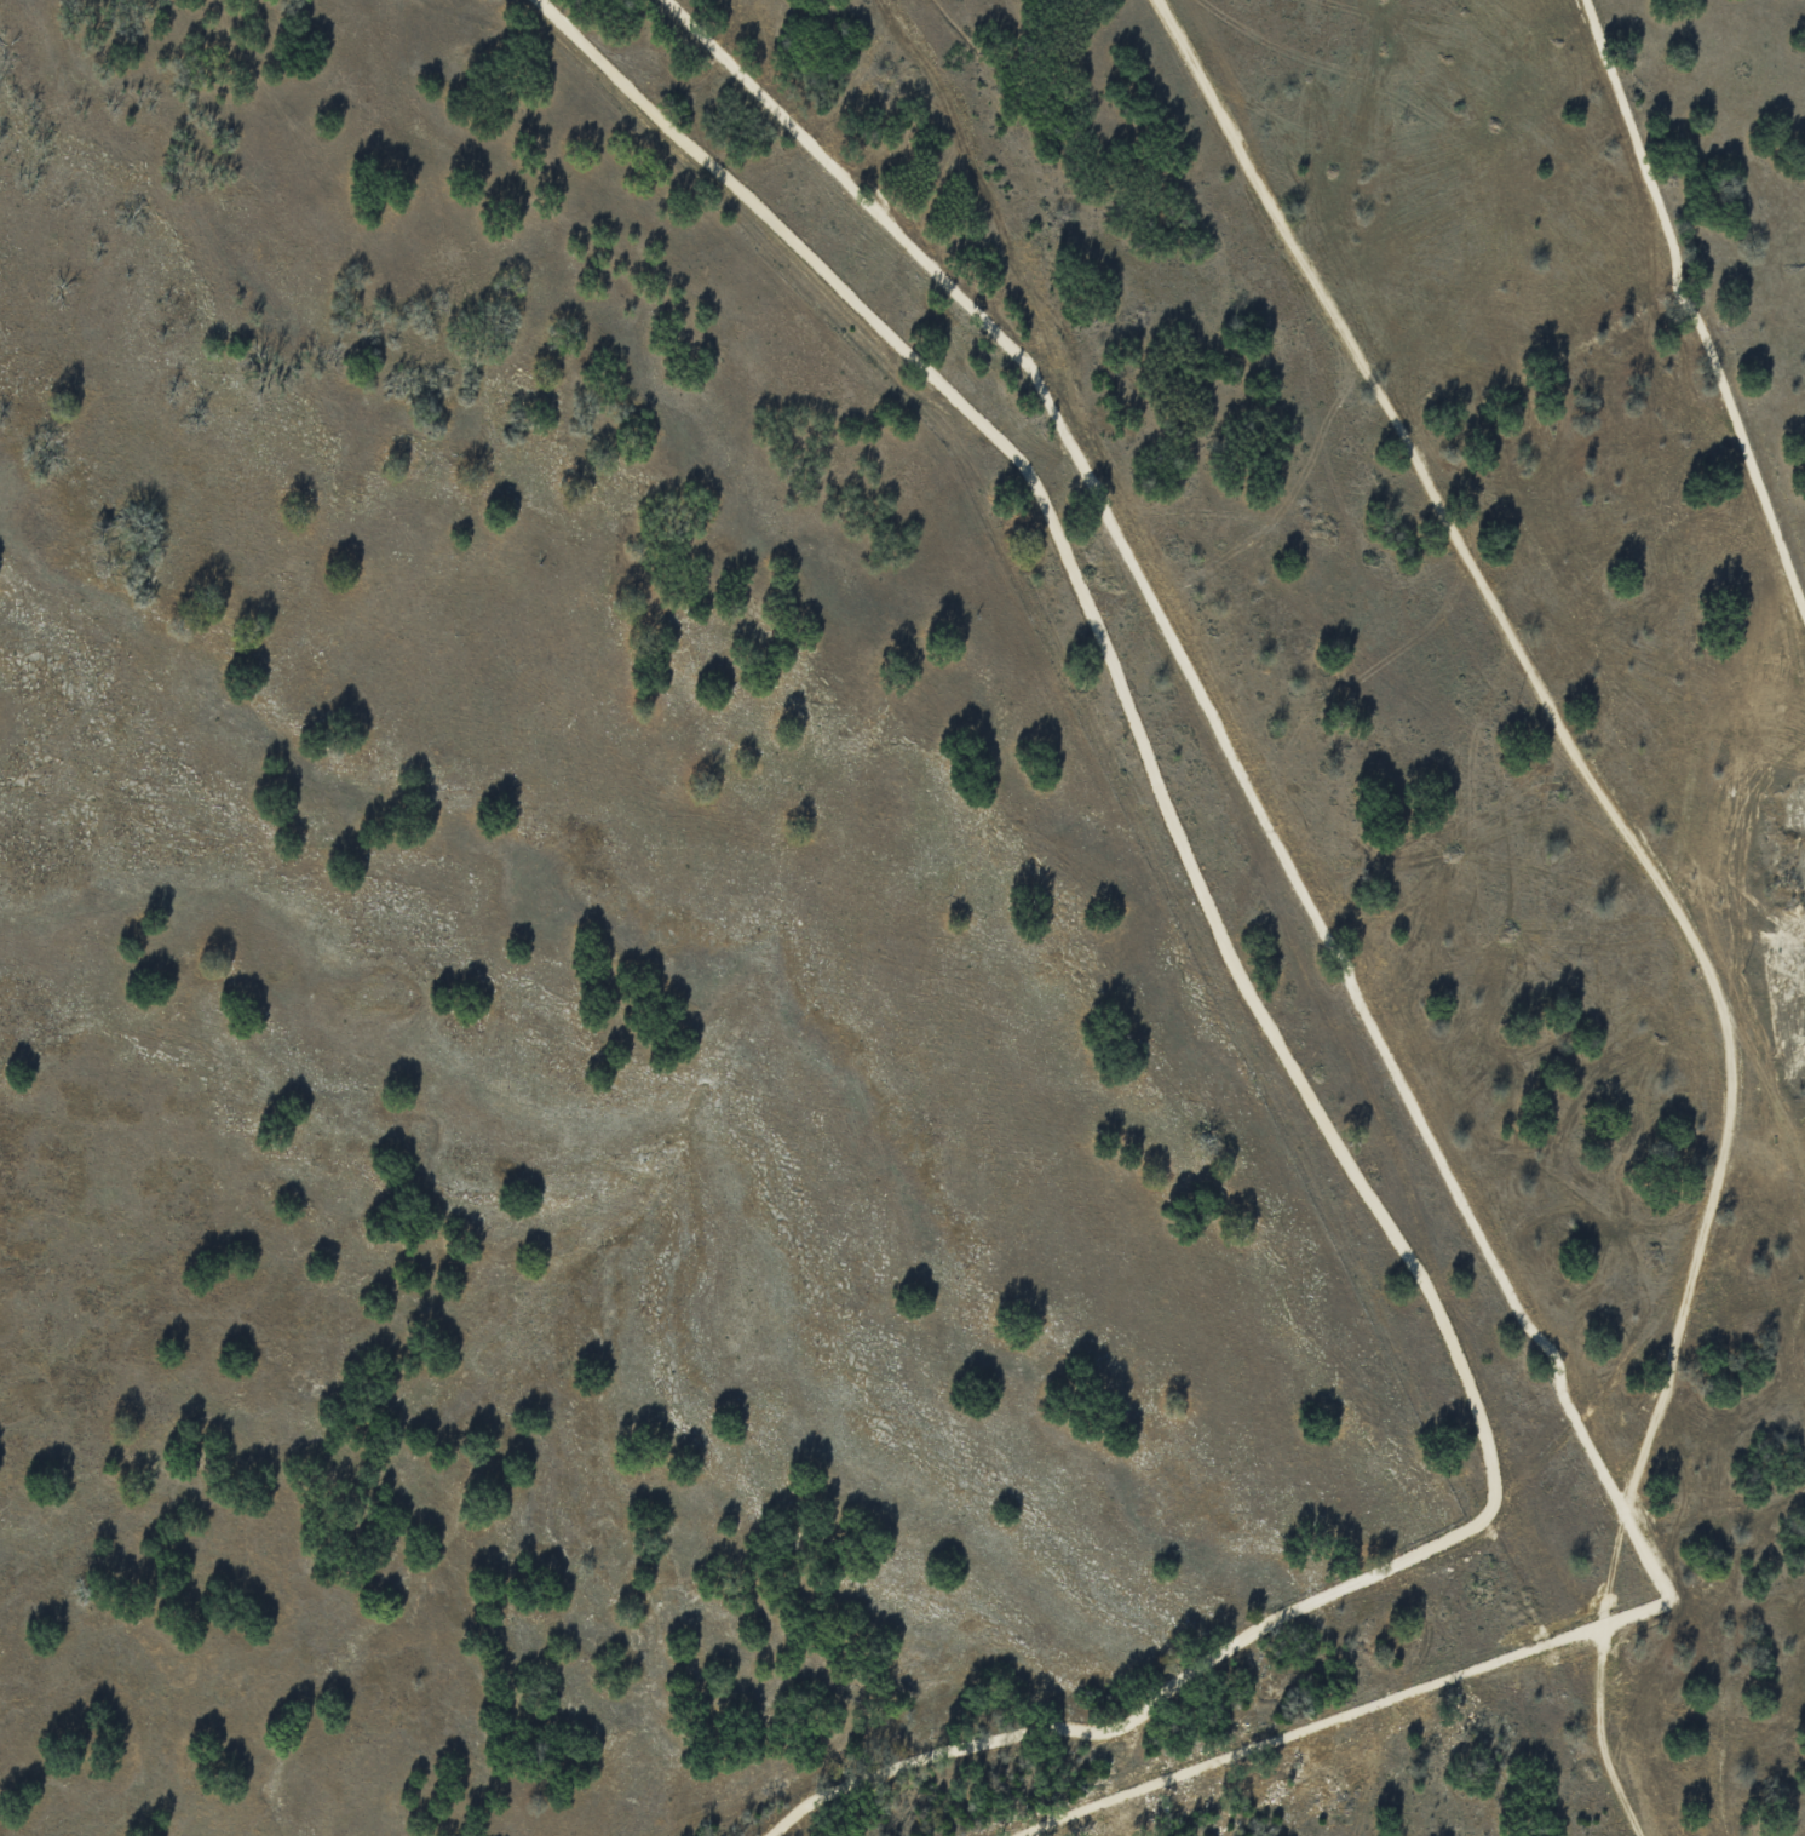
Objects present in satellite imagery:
road: (1651, 873)
road: (1368, 1170)

